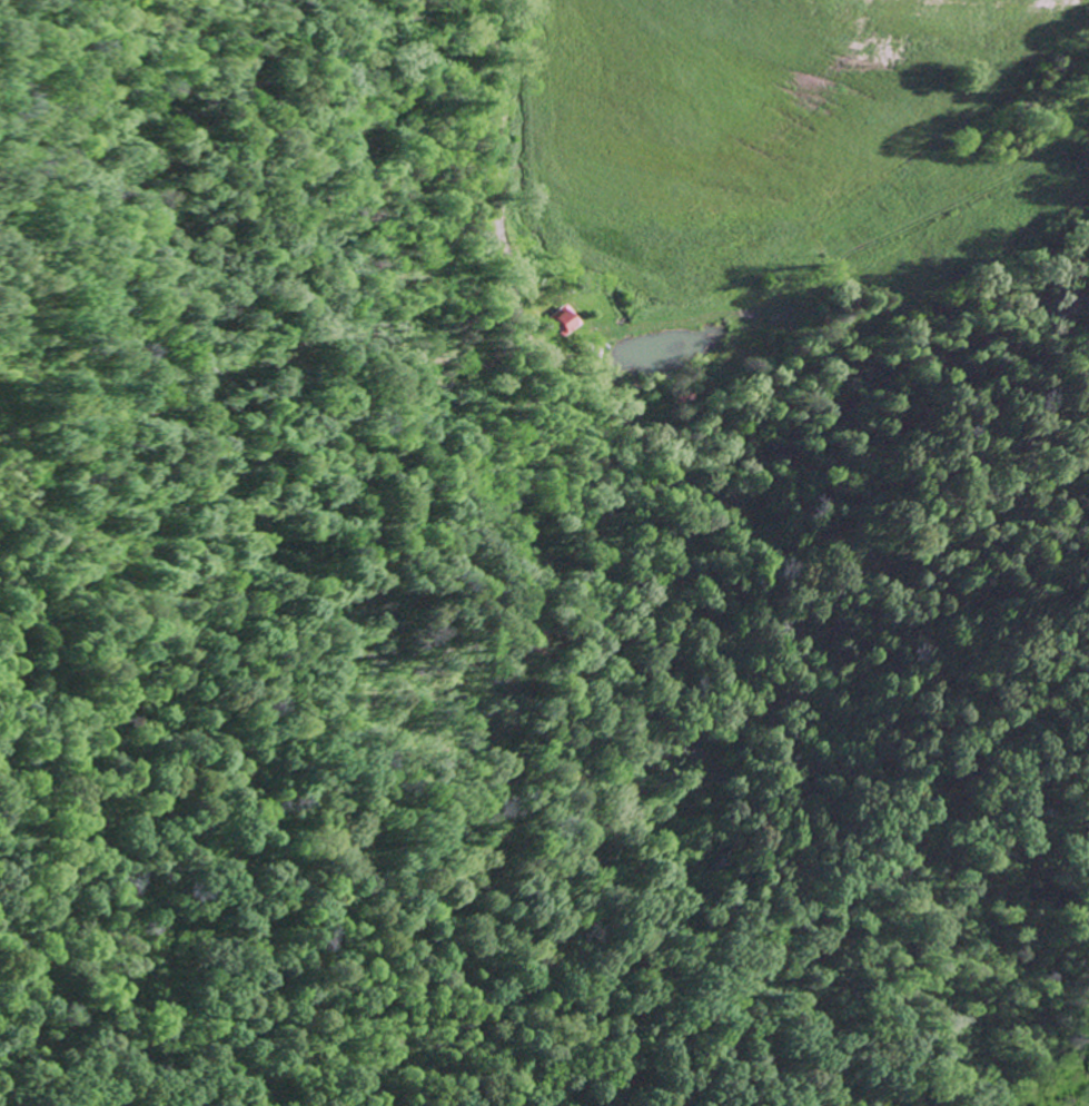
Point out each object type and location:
road: (492, 192)
building: (563, 319)
road: (1031, 1068)

